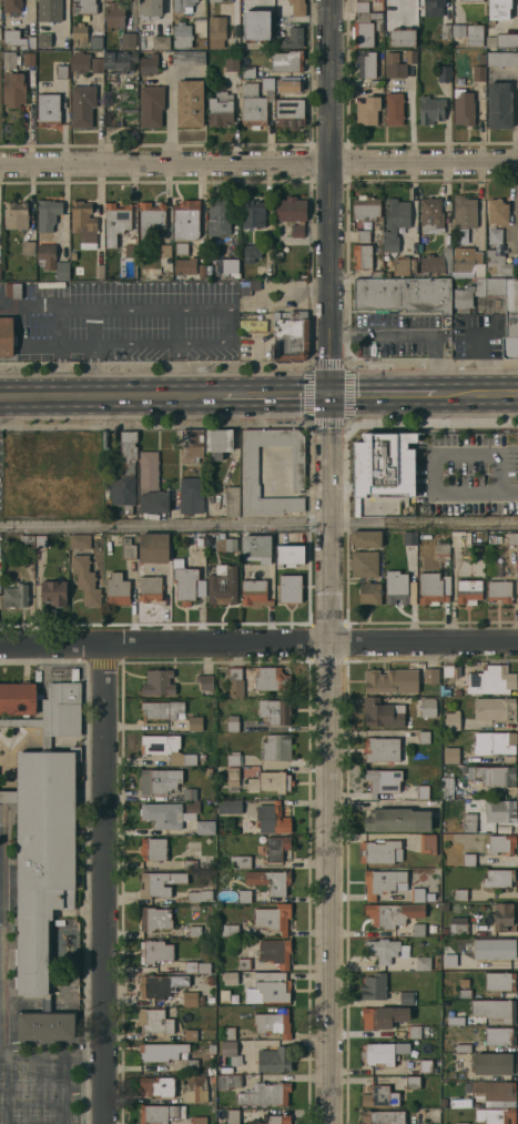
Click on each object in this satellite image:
building: (215, 0)
building: (469, 0)
building: (434, 3)
building: (183, 4)
building: (12, 6)
building: (84, 7)
building: (362, 7)
building: (150, 8)
building: (297, 8)
building: (498, 9)
building: (49, 10)
building: (389, 12)
building: (114, 14)
building: (370, 18)
building: (256, 20)
building: (200, 26)
building: (446, 30)
building: (458, 30)
building: (216, 31)
building: (233, 31)
building: (80, 32)
building: (362, 34)
building: (474, 34)
building: (182, 36)
building: (402, 38)
building: (129, 39)
building: (292, 39)
building: (18, 40)
building: (44, 40)
building: (502, 40)
building: (161, 41)
building: (95, 42)
building: (410, 55)
building: (481, 57)
building: (189, 58)
building: (29, 59)
building: (502, 59)
building: (9, 60)
building: (80, 61)
building: (121, 61)
building: (286, 61)
building: (231, 63)
building: (365, 63)
building: (97, 64)
building: (148, 64)
building: (394, 65)
building: (251, 71)
building: (62, 72)
building: (444, 73)
building: (478, 73)
building: (290, 82)
building: (376, 83)
building: (13, 89)
building: (190, 103)
building: (254, 103)
building: (82, 105)
building: (151, 105)
building: (499, 105)
building: (463, 108)
building: (394, 109)
building: (48, 110)
building: (220, 110)
building: (430, 110)
building: (367, 111)
building: (288, 112)
building: (129, 115)
road: (410, 122)
road: (258, 164)
road: (514, 205)
building: (365, 207)
building: (290, 209)
building: (497, 211)
building: (464, 212)
building: (16, 214)
building: (219, 214)
building: (252, 214)
building: (430, 215)
building: (48, 217)
building: (151, 219)
building: (186, 220)
building: (83, 221)
building: (115, 222)
building: (395, 222)
building: (296, 231)
building: (363, 236)
building: (495, 236)
building: (28, 247)
building: (181, 247)
building: (129, 250)
building: (165, 251)
building: (378, 251)
building: (250, 253)
building: (72, 254)
building: (47, 255)
building: (363, 256)
building: (436, 263)
building: (499, 263)
building: (404, 265)
building: (466, 265)
building: (224, 266)
building: (183, 267)
building: (63, 271)
building: (99, 271)
building: (202, 271)
building: (13, 290)
building: (469, 293)
building: (402, 294)
building: (506, 311)
building: (466, 323)
building: (252, 324)
road: (413, 333)
building: (288, 335)
building: (7, 336)
road: (160, 343)
road: (75, 346)
road: (477, 394)
road: (383, 395)
road: (275, 396)
traffic signals: (329, 396)
road: (110, 397)
building: (215, 442)
building: (191, 445)
road: (431, 455)
building: (248, 465)
building: (384, 465)
building: (124, 473)
building: (152, 486)
road: (509, 493)
building: (191, 495)
building: (231, 502)
road: (258, 525)
building: (365, 538)
building: (409, 538)
building: (460, 538)
building: (512, 538)
building: (28, 540)
building: (41, 540)
building: (80, 541)
building: (199, 541)
building: (225, 544)
building: (155, 547)
building: (128, 548)
building: (255, 548)
building: (443, 549)
building: (288, 555)
road: (328, 561)
building: (363, 564)
building: (87, 579)
building: (184, 585)
building: (222, 585)
building: (150, 588)
building: (399, 588)
building: (434, 588)
building: (118, 589)
building: (290, 589)
building: (499, 590)
building: (469, 591)
building: (53, 593)
building: (369, 593)
building: (253, 594)
building: (16, 596)
road: (258, 645)
building: (448, 670)
building: (74, 674)
building: (430, 676)
building: (271, 679)
building: (392, 680)
building: (490, 680)
building: (205, 681)
building: (159, 682)
building: (235, 682)
building: (458, 692)
building: (45, 706)
building: (427, 707)
building: (495, 708)
building: (162, 710)
building: (274, 711)
building: (382, 712)
building: (450, 720)
building: (409, 721)
building: (20, 722)
building: (232, 722)
building: (194, 723)
building: (424, 737)
building: (495, 742)
building: (49, 745)
building: (276, 747)
building: (166, 749)
building: (382, 749)
building: (450, 756)
building: (202, 757)
building: (233, 759)
building: (461, 768)
building: (209, 771)
building: (233, 773)
building: (492, 774)
building: (159, 780)
building: (383, 781)
building: (270, 782)
building: (447, 787)
building: (421, 792)
building: (189, 793)
building: (192, 806)
building: (230, 807)
building: (500, 811)
building: (162, 814)
building: (272, 819)
building: (397, 820)
building: (469, 822)
building: (204, 827)
building: (427, 843)
building: (501, 844)
building: (275, 848)
building: (153, 849)
building: (379, 852)
building: (42, 857)
building: (468, 859)
building: (240, 861)
building: (200, 862)
building: (498, 878)
building: (270, 880)
building: (384, 882)
building: (160, 883)
road: (103, 884)
building: (417, 894)
building: (460, 894)
building: (200, 895)
building: (244, 895)
building: (393, 913)
building: (502, 917)
building: (154, 918)
building: (273, 918)
building: (458, 925)
building: (431, 928)
building: (418, 929)
building: (228, 930)
building: (445, 930)
building: (194, 931)
building: (494, 948)
building: (383, 950)
building: (404, 951)
building: (155, 952)
building: (275, 952)
building: (421, 963)
building: (243, 964)
building: (196, 966)
building: (230, 978)
building: (210, 980)
building: (499, 981)
building: (160, 985)
building: (374, 986)
building: (268, 988)
building: (465, 992)
building: (407, 998)
building: (192, 999)
building: (45, 1005)
building: (495, 1009)
building: (383, 1016)
building: (454, 1020)
building: (154, 1021)
building: (273, 1023)
building: (45, 1025)
building: (414, 1032)
building: (228, 1033)
building: (193, 1034)
building: (499, 1036)
building: (463, 1047)
building: (161, 1052)
building: (230, 1052)
building: (383, 1053)
building: (273, 1060)
building: (495, 1063)
building: (191, 1064)
building: (425, 1065)
building: (65, 1069)
building: (228, 1082)
building: (413, 1082)
building: (158, 1086)
building: (477, 1086)
building: (200, 1088)
building: (499, 1091)
building: (264, 1094)
building: (379, 1096)
building: (444, 1102)
building: (460, 1102)
building: (161, 1113)
building: (495, 1115)
building: (232, 1116)
building: (382, 1117)
building: (199, 1120)
building: (277, 1120)
building: (461, 1123)

